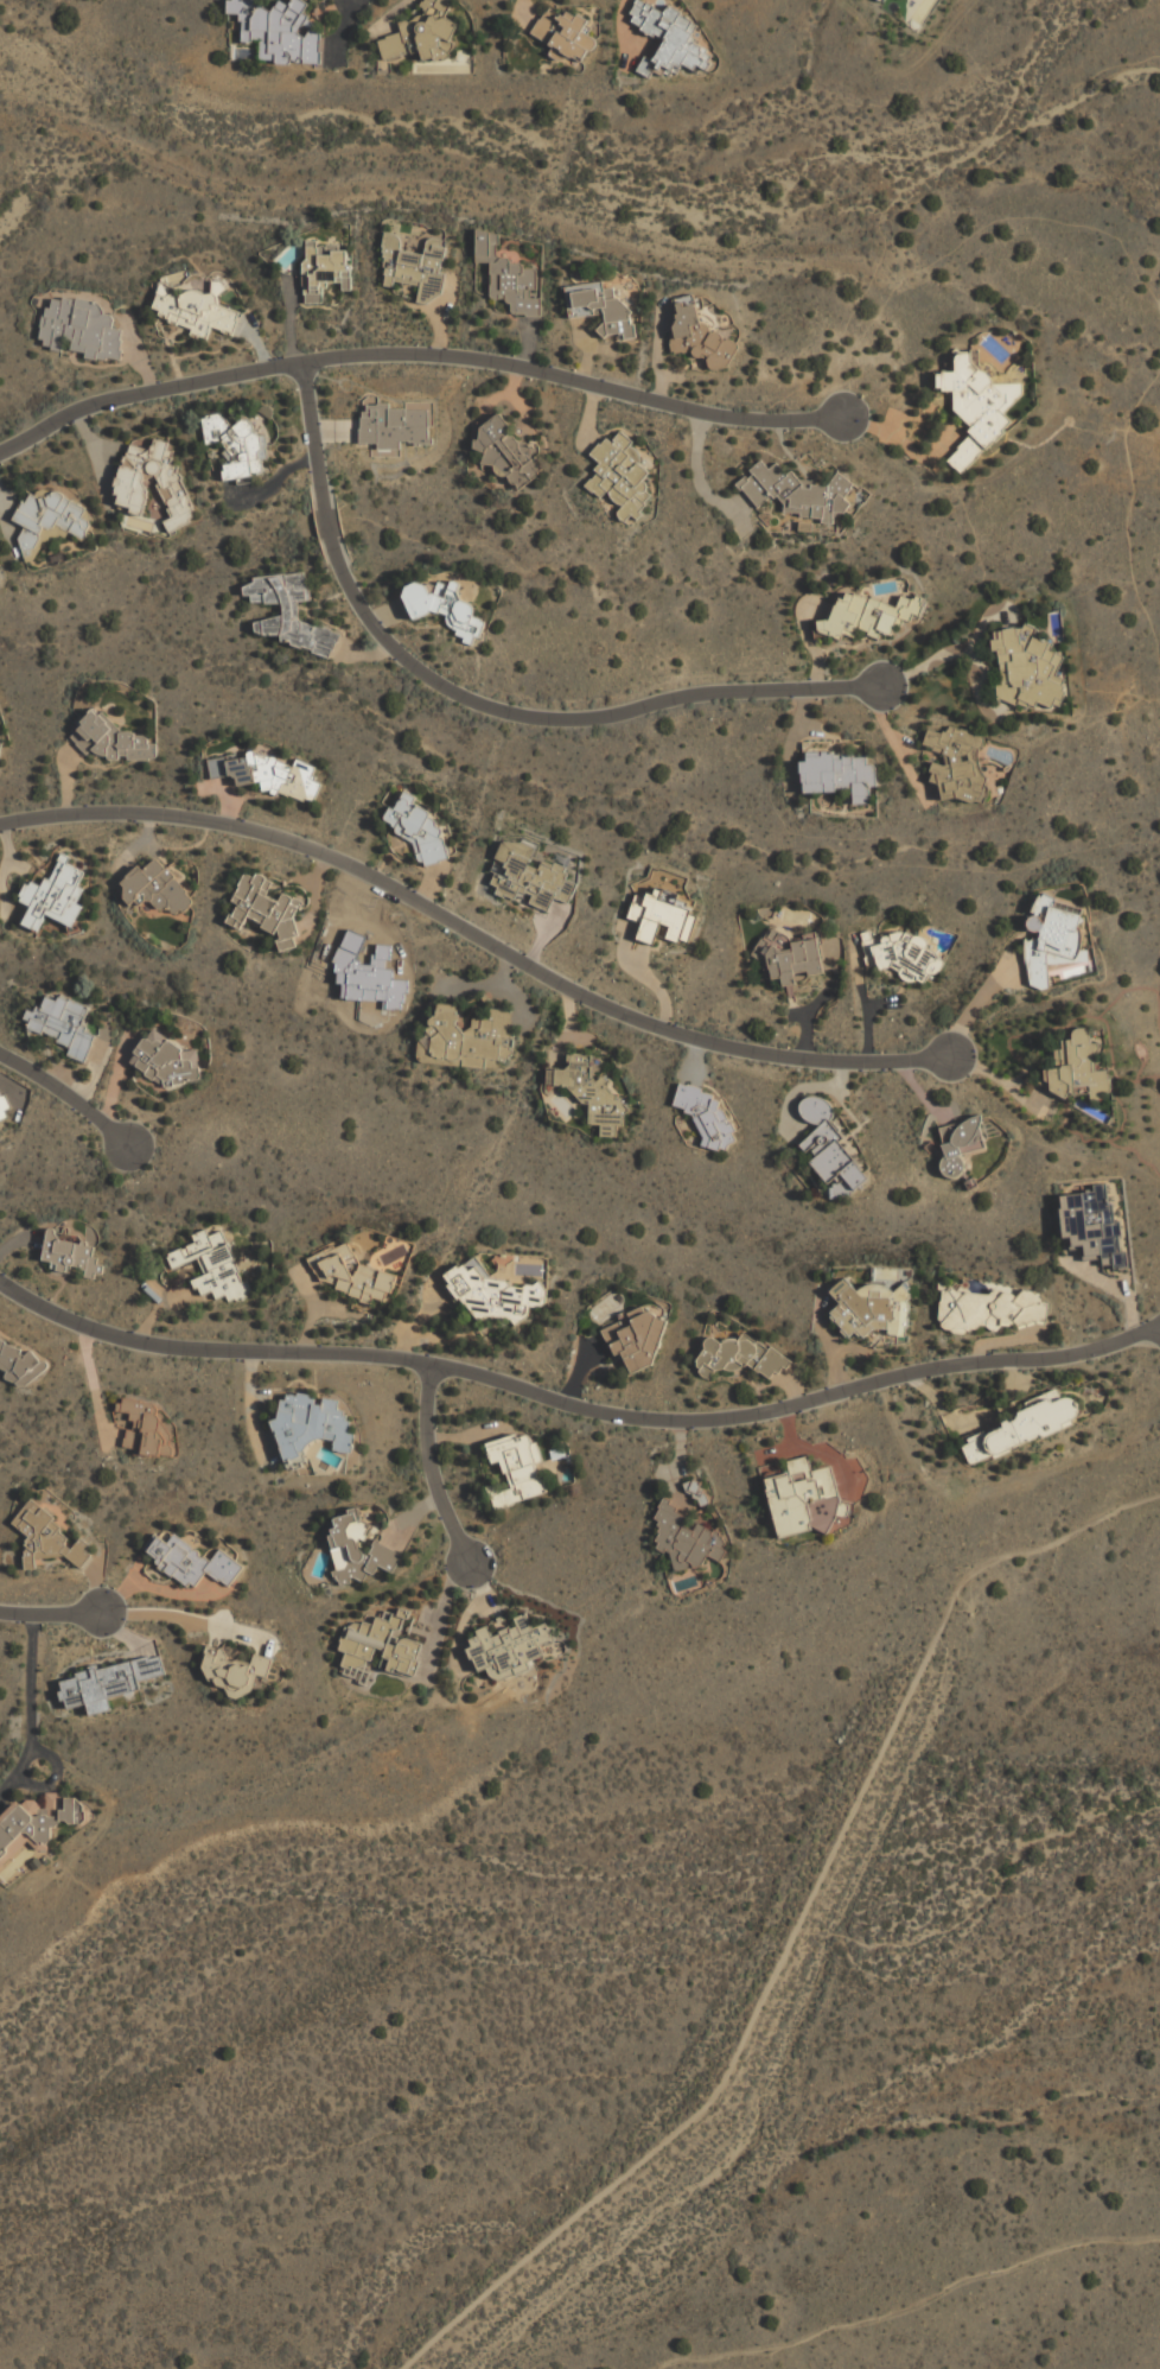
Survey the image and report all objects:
building: (279, 31)
building: (422, 34)
building: (562, 34)
building: (668, 39)
building: (413, 267)
building: (323, 269)
building: (508, 278)
building: (600, 306)
building: (195, 311)
building: (79, 329)
building: (699, 336)
road: (372, 356)
building: (976, 407)
road: (795, 419)
building: (236, 445)
building: (506, 452)
building: (619, 476)
building: (128, 483)
building: (796, 491)
road: (1133, 500)
building: (52, 514)
building: (442, 606)
building: (289, 612)
building: (866, 615)
road: (941, 658)
building: (1026, 667)
road: (477, 700)
building: (107, 737)
building: (0, 744)
building: (956, 762)
building: (266, 774)
building: (839, 774)
building: (416, 828)
building: (529, 877)
building: (155, 888)
building: (53, 896)
building: (266, 909)
building: (661, 916)
road: (478, 939)
building: (1053, 942)
building: (790, 955)
building: (907, 955)
building: (62, 1024)
building: (464, 1039)
building: (164, 1060)
building: (1076, 1067)
road: (43, 1073)
building: (589, 1092)
building: (2, 1107)
building: (706, 1117)
road: (109, 1125)
building: (958, 1143)
building: (828, 1144)
building: (1091, 1225)
building: (70, 1253)
building: (212, 1265)
building: (350, 1275)
building: (497, 1295)
building: (872, 1304)
building: (987, 1308)
building: (635, 1339)
building: (739, 1357)
building: (18, 1364)
road: (574, 1403)
building: (311, 1423)
building: (1018, 1429)
road: (428, 1467)
building: (516, 1467)
building: (803, 1499)
building: (45, 1537)
building: (686, 1539)
building: (356, 1549)
building: (190, 1561)
road: (51, 1609)
road: (178, 1614)
building: (508, 1647)
building: (235, 1670)
building: (108, 1683)
road: (30, 1706)
building: (38, 1817)
road: (796, 1929)
road: (910, 2305)

